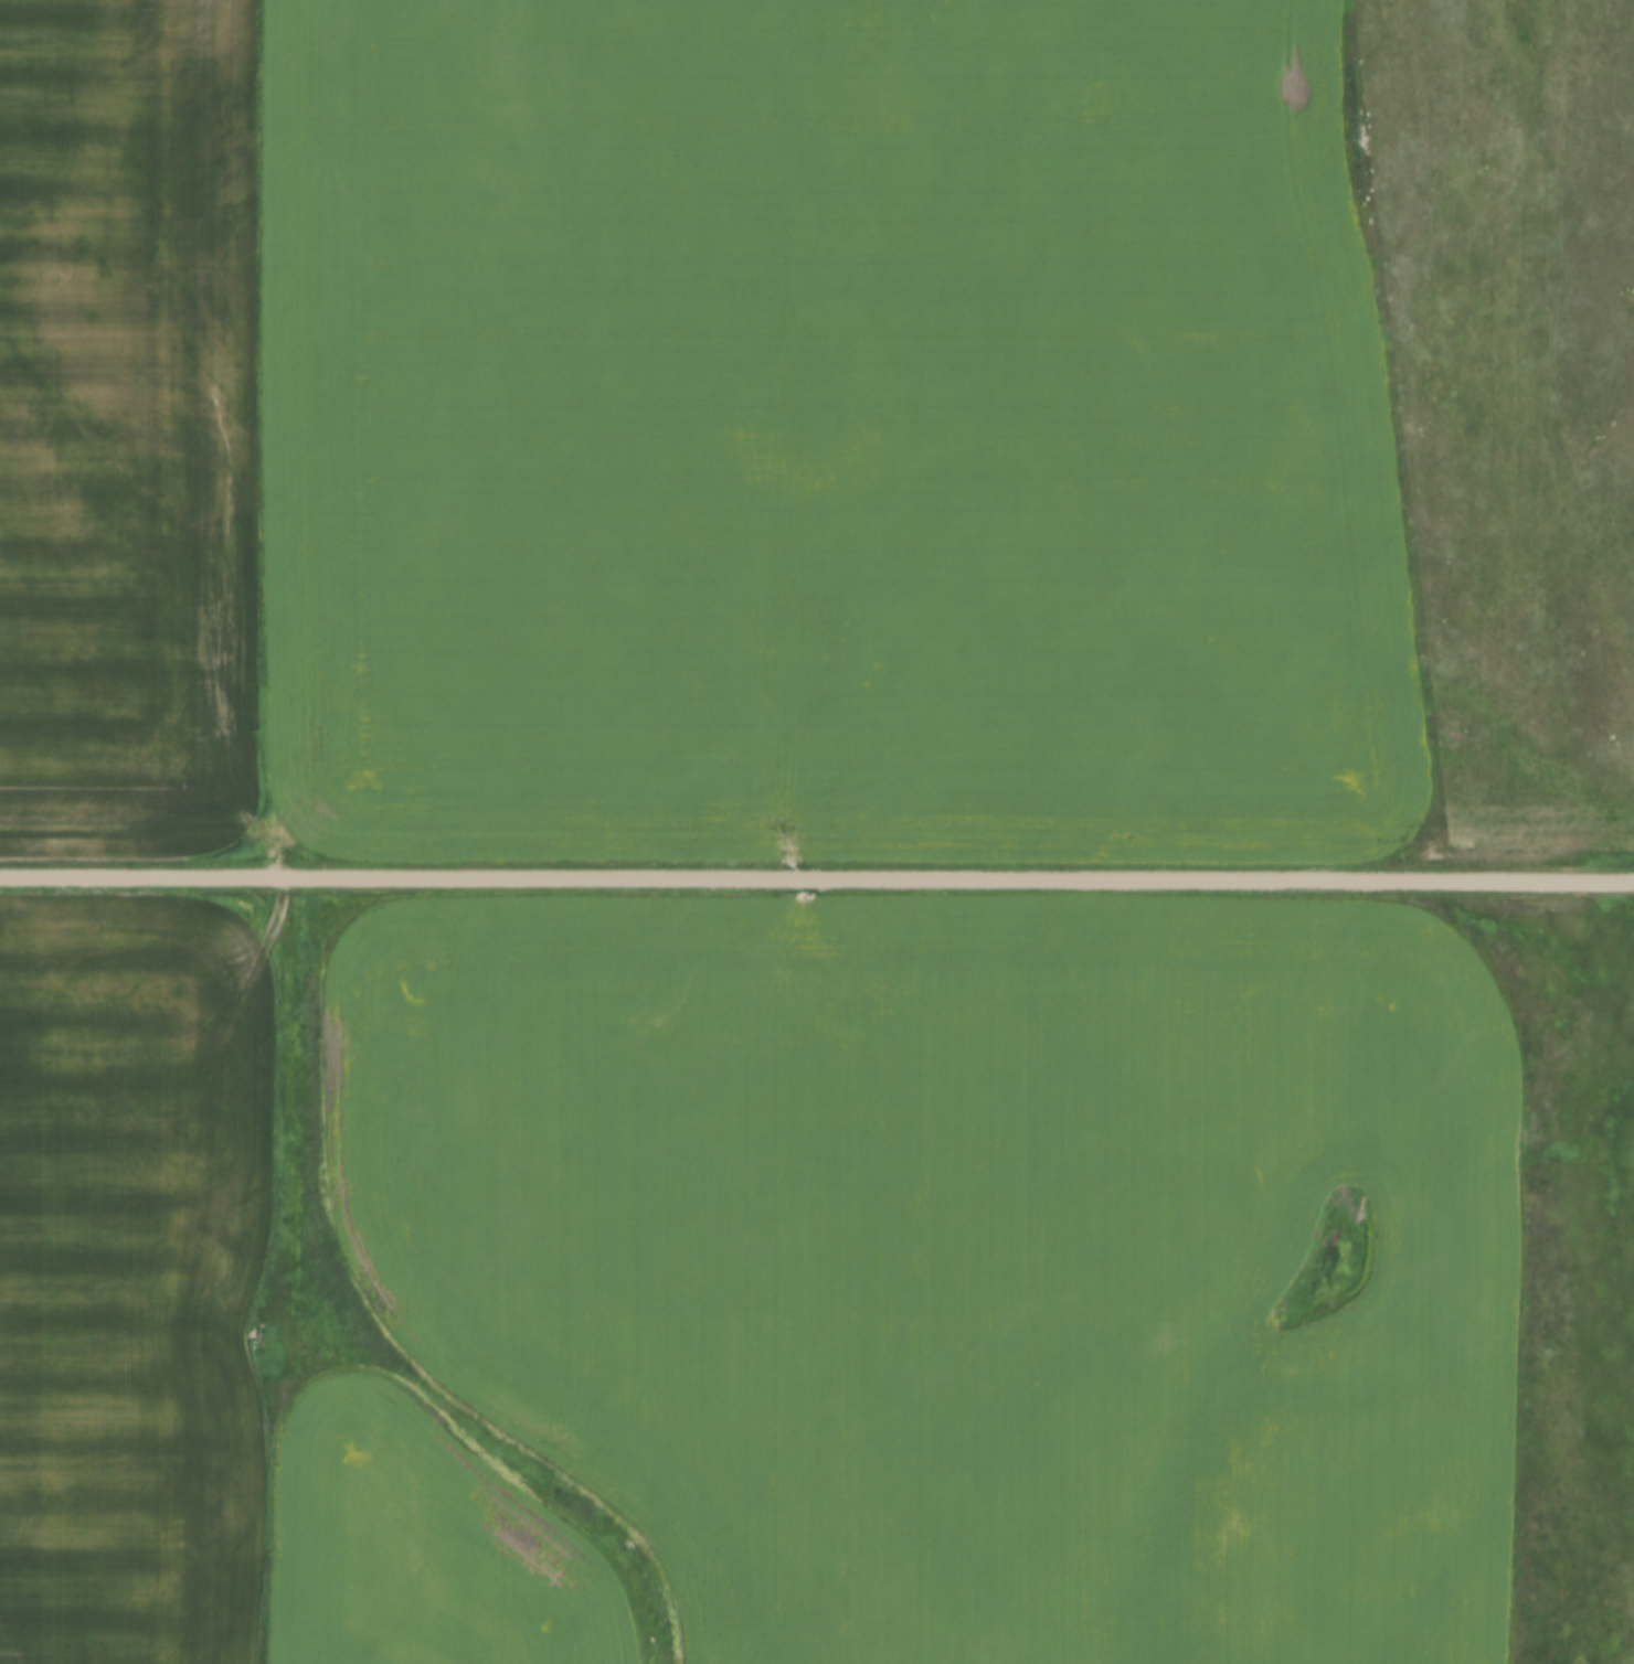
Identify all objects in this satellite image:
road: (817, 876)
road: (294, 1270)

